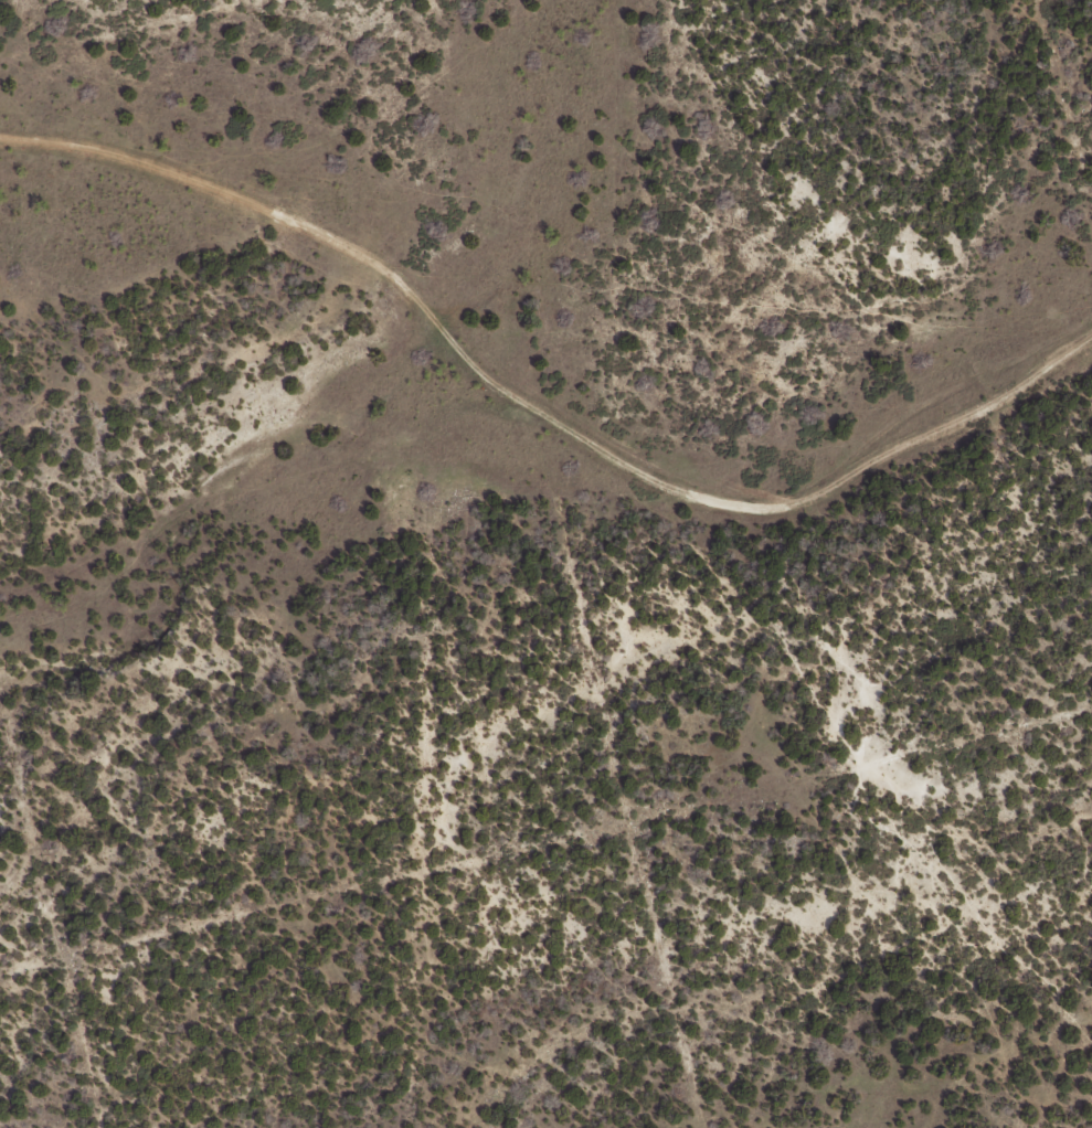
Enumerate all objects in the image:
road: (517, 440)
road: (226, 540)

